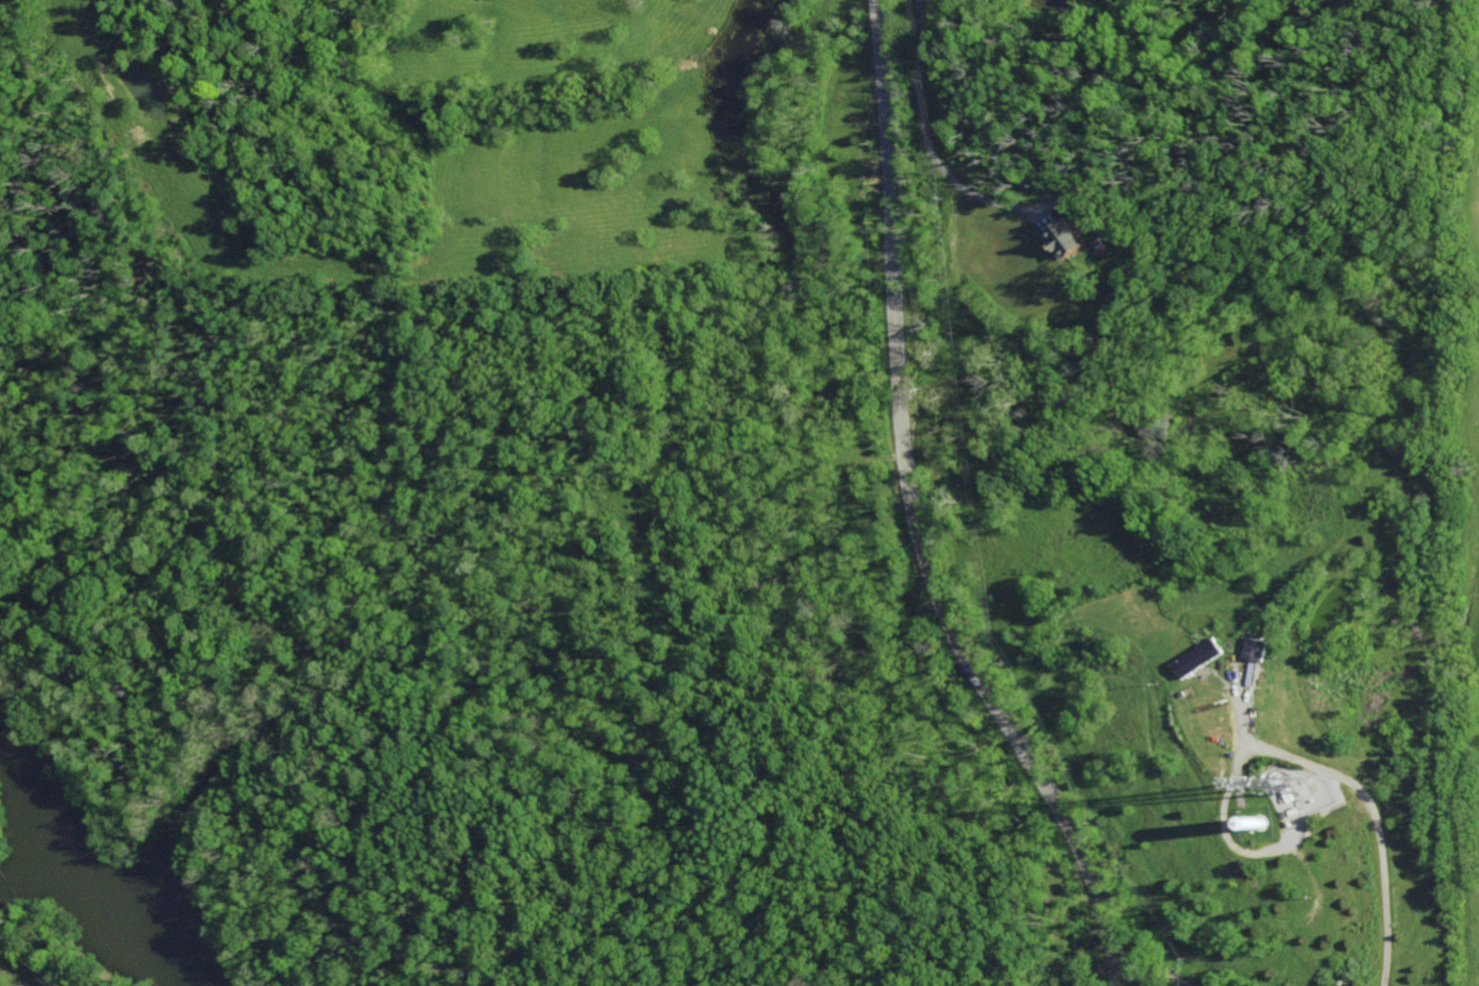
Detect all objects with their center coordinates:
road: (930, 143)
building: (1069, 239)
building: (1158, 428)
road: (912, 515)
building: (1262, 650)
building: (1204, 661)
road: (1228, 802)
water tower: (1265, 836)
road: (1383, 895)
road: (1148, 976)

